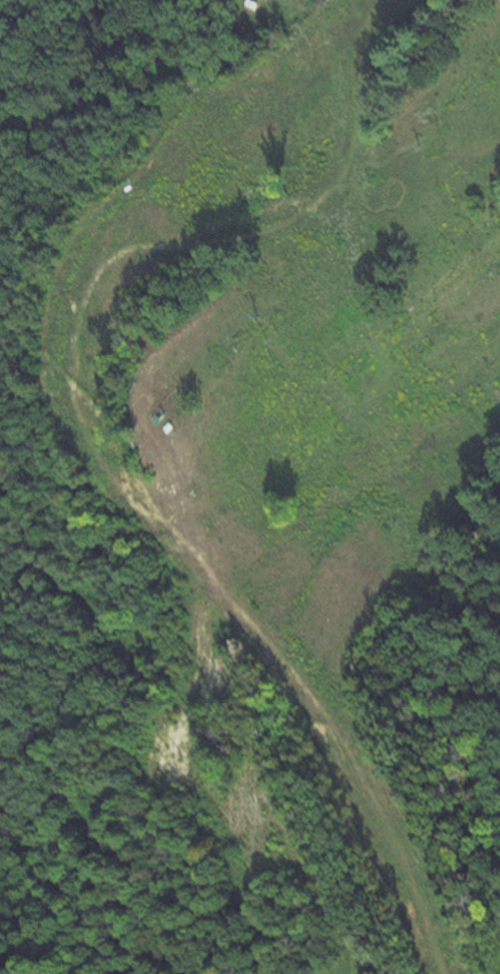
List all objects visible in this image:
aerialway pylon: (416, 147)
aerialway pylon: (255, 310)
aerialway pylon: (187, 381)
ski resort: (257, 445)
crop: (355, 968)

